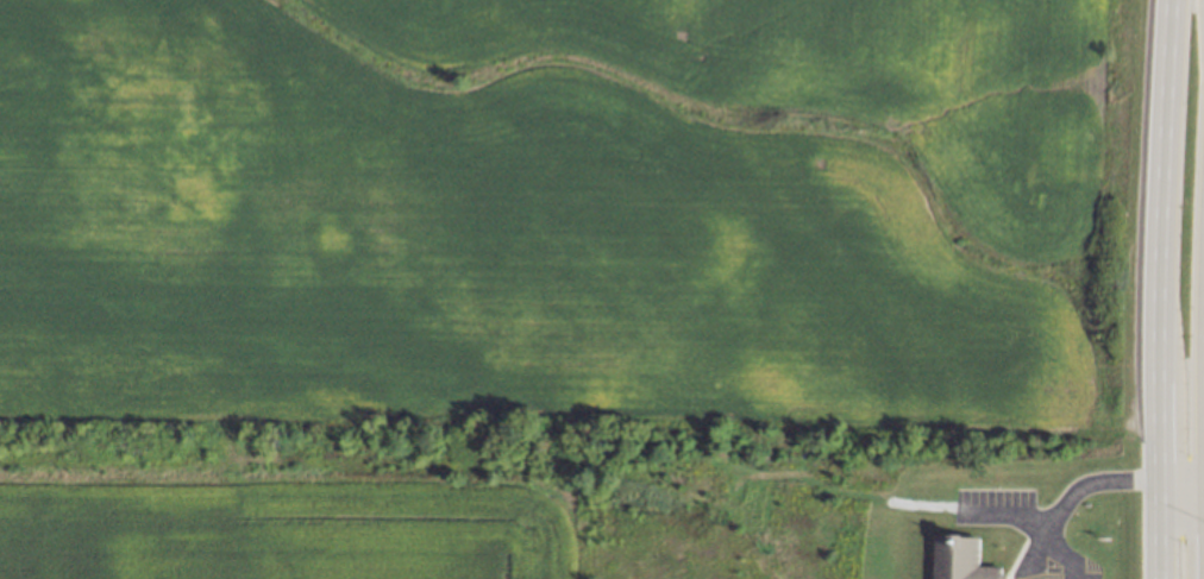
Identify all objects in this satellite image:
road: (1167, 237)
road: (1181, 474)
road: (1086, 486)
road: (1010, 517)
road: (1160, 527)
road: (1065, 552)
building: (962, 558)
road: (1035, 560)

